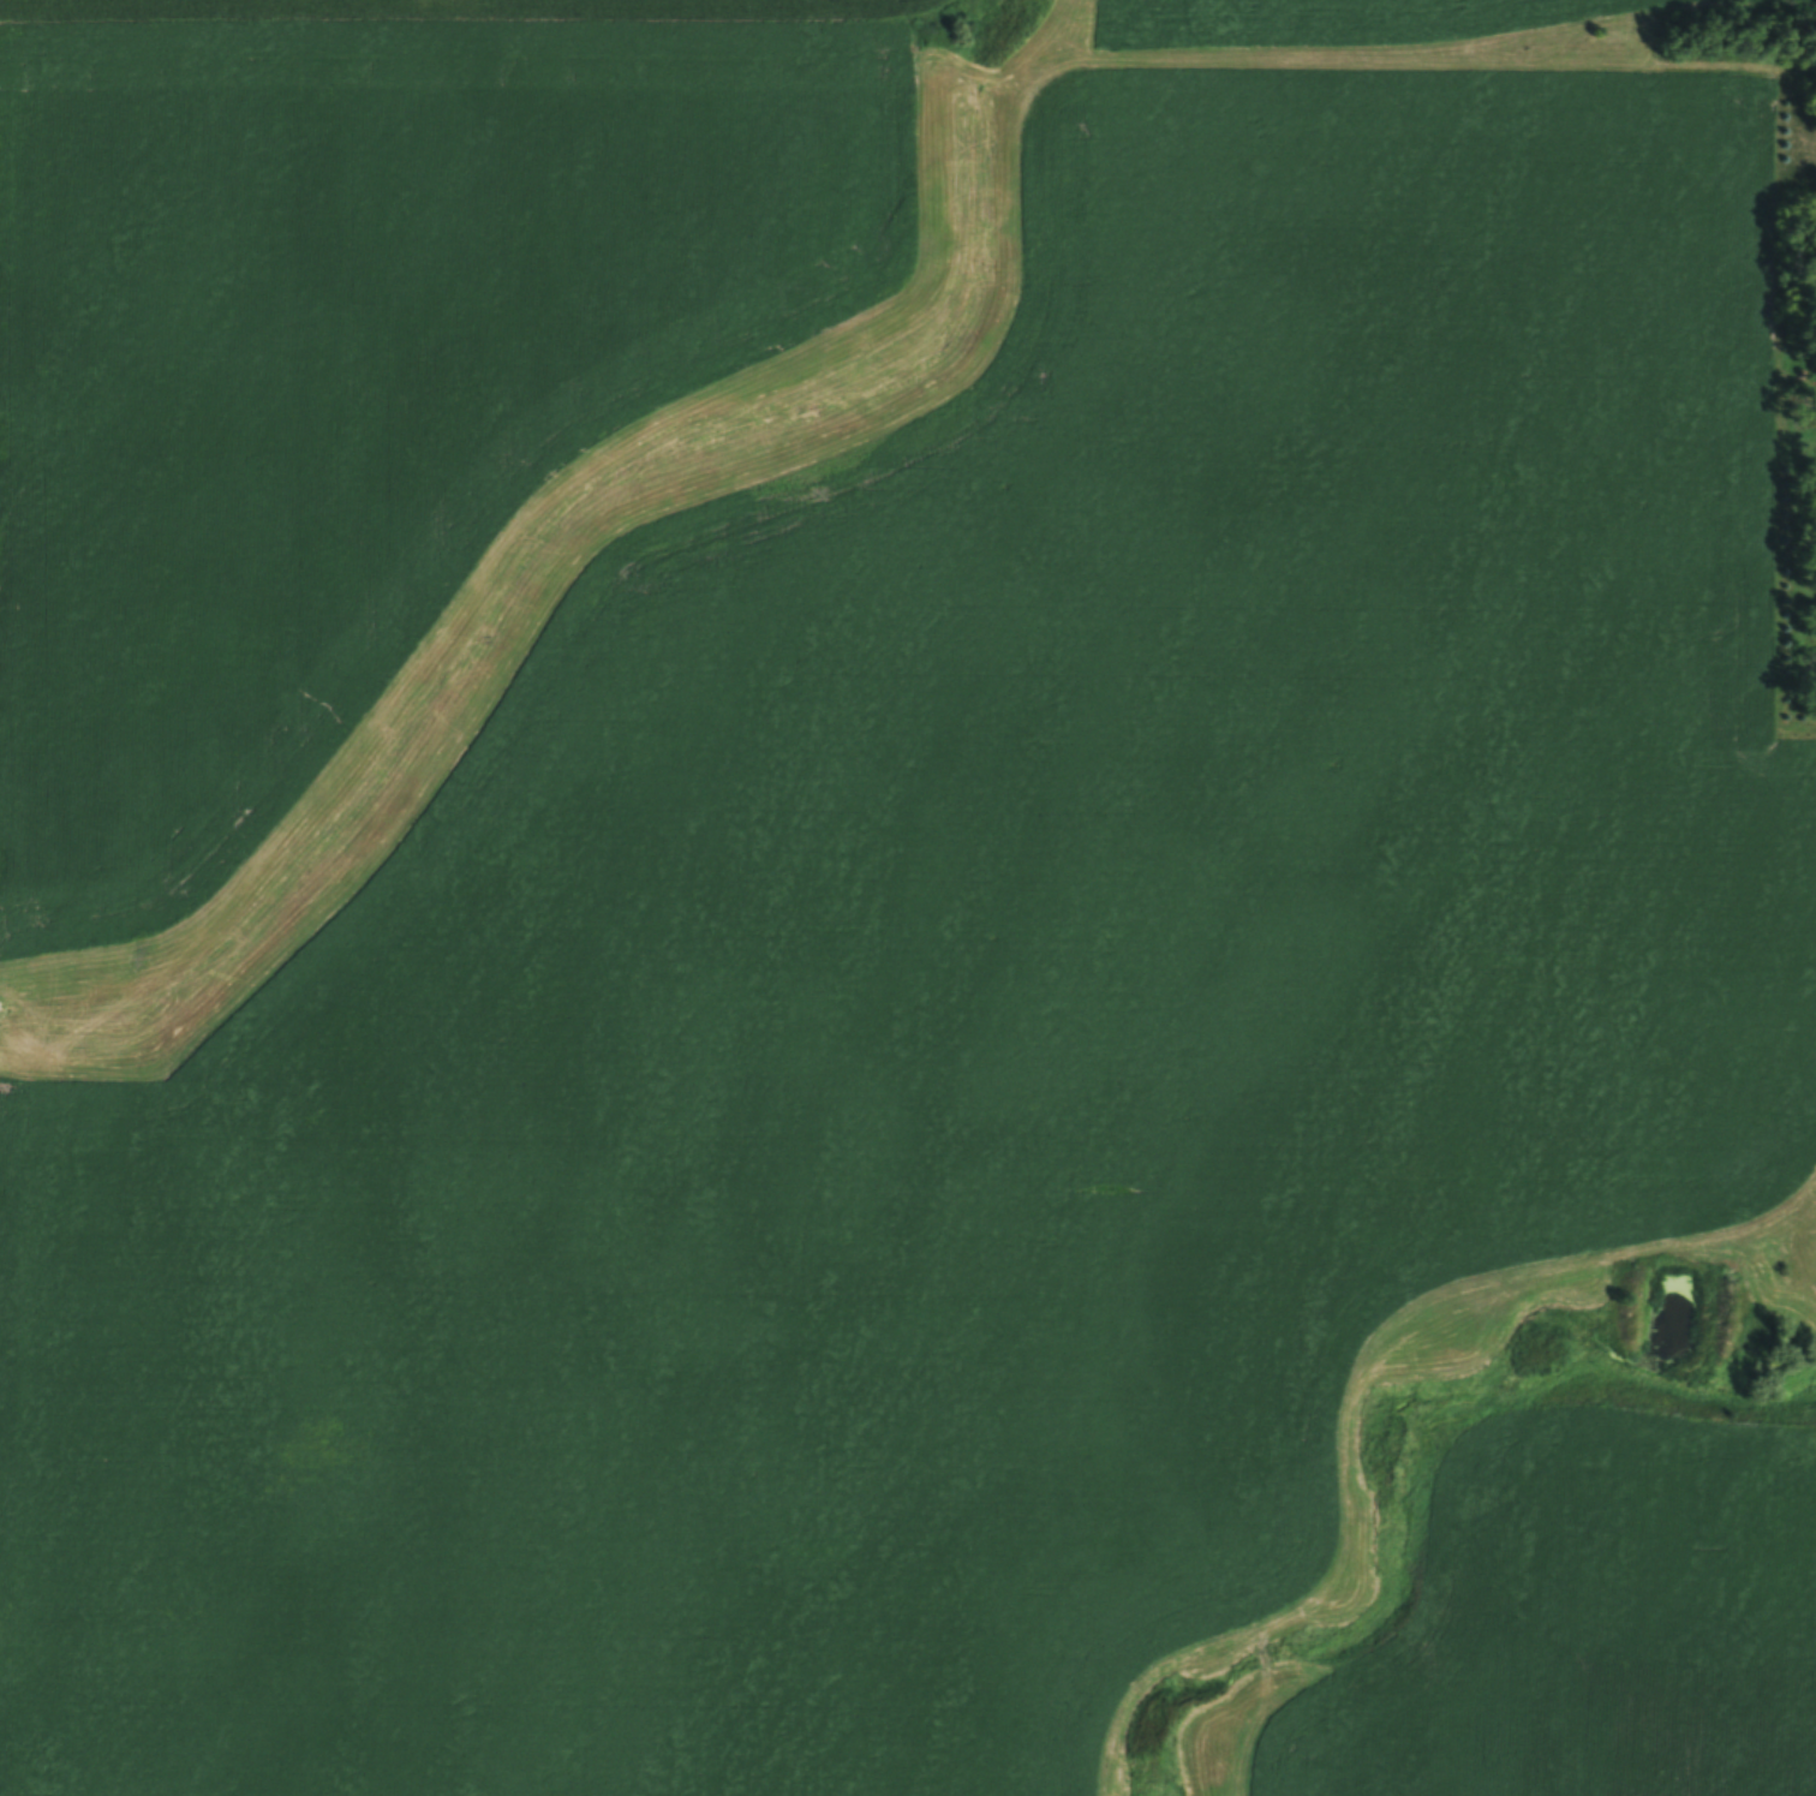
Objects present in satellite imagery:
building: (1809, 1783)

